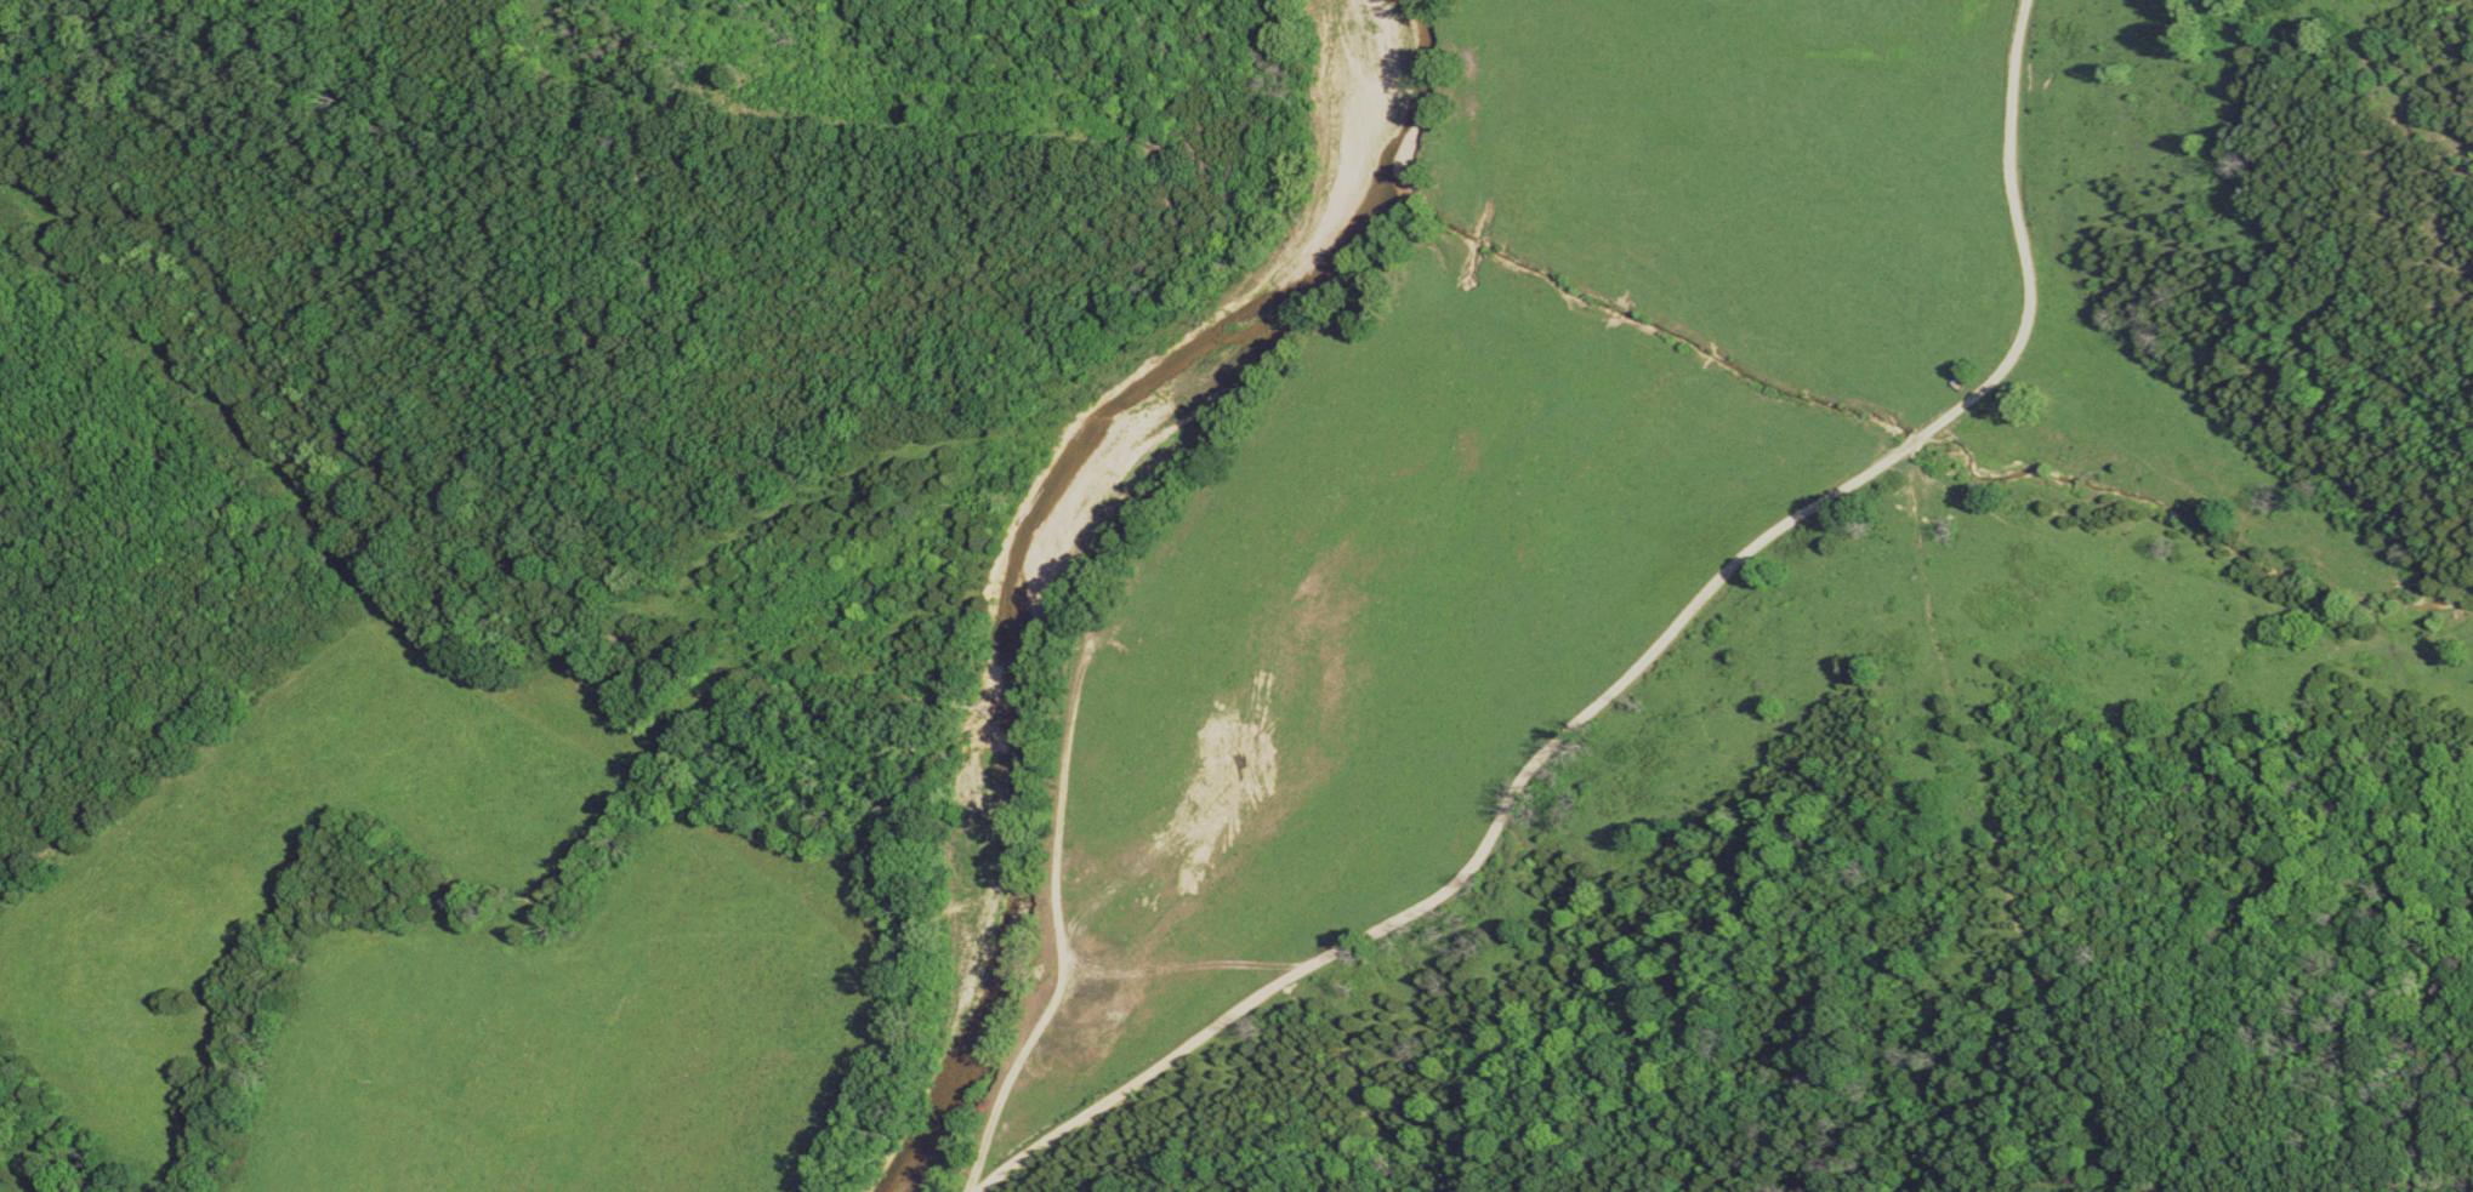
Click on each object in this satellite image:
road: (1635, 665)

